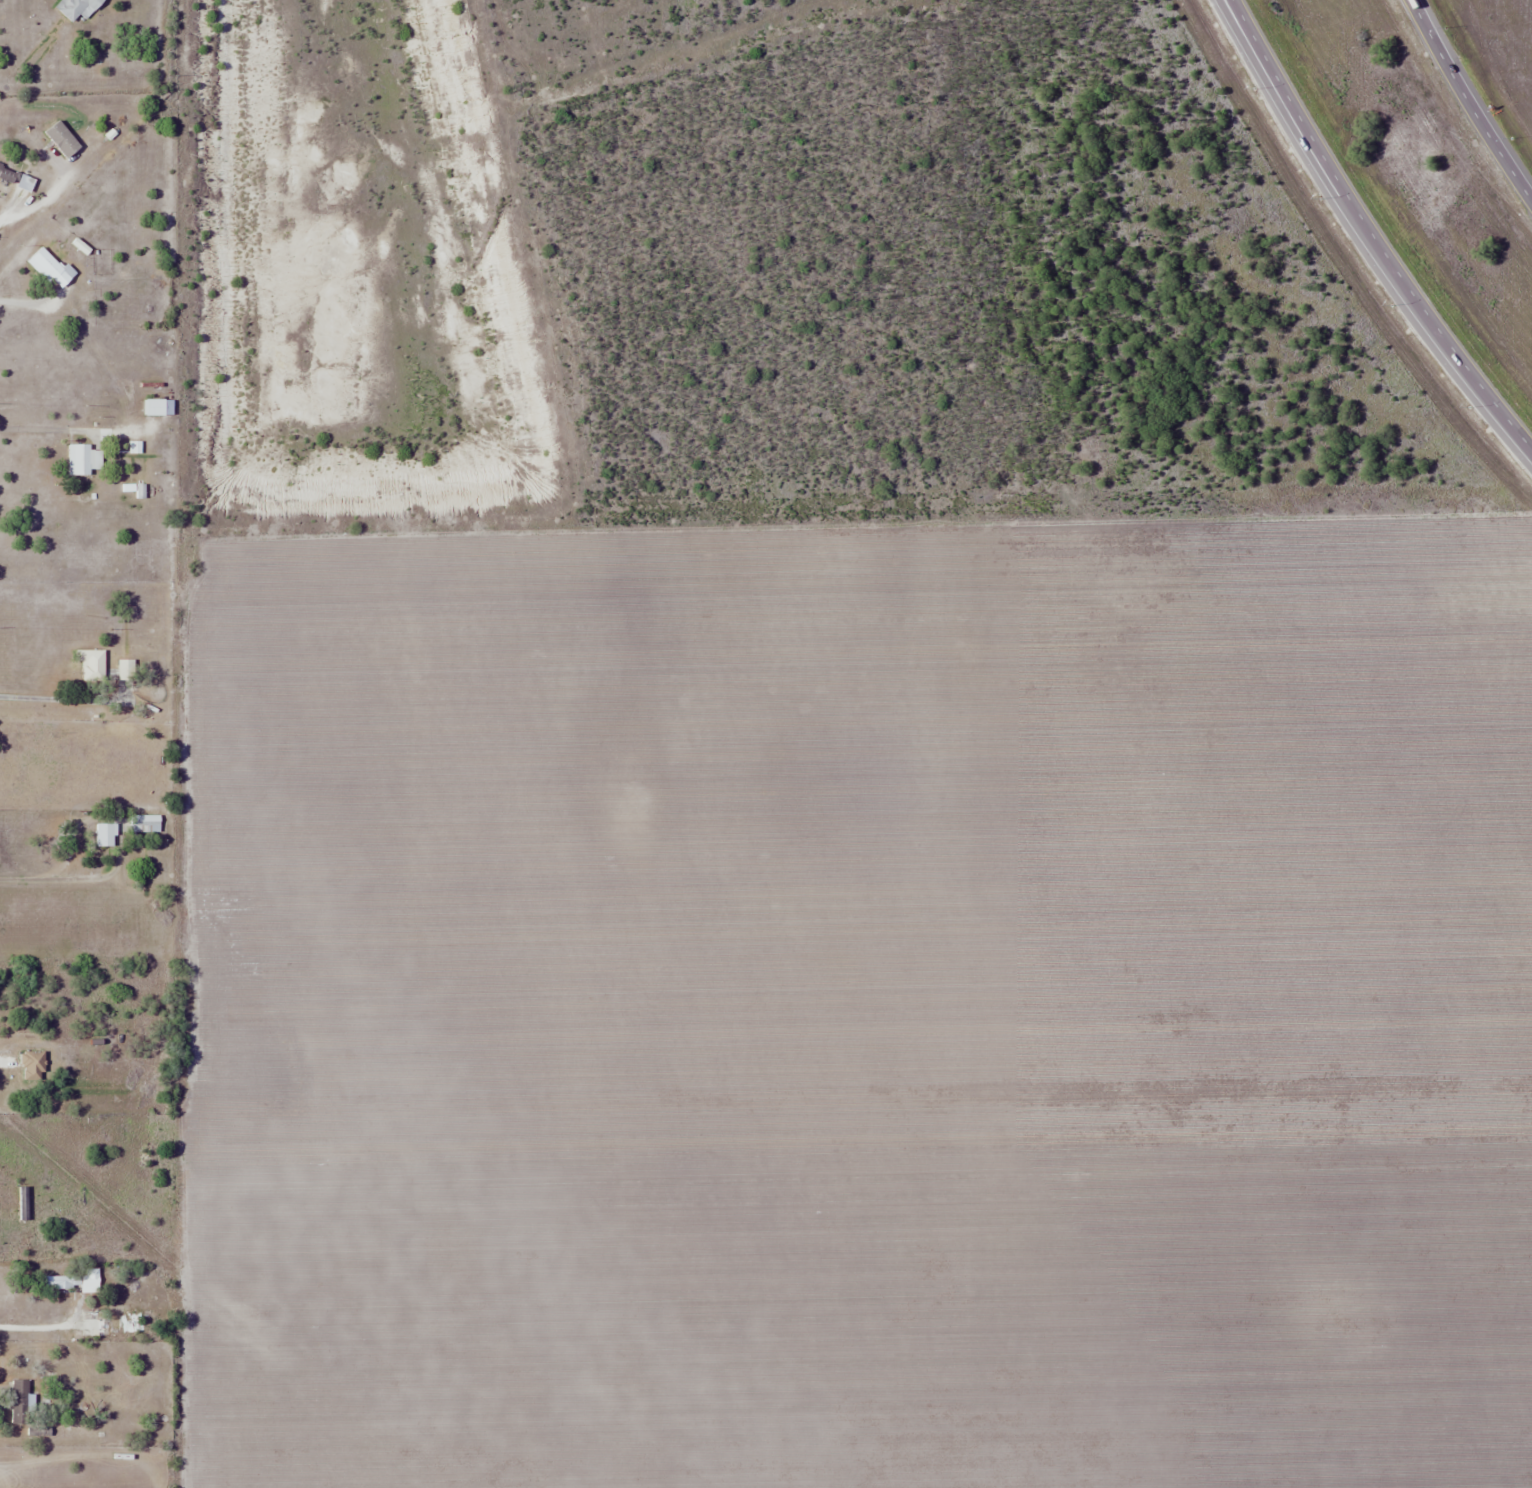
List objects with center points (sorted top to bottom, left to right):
building: (77, 8)
road: (1236, 9)
road: (1468, 101)
road: (1331, 168)
road: (8, 208)
building: (60, 280)
road: (26, 297)
road: (1484, 390)
building: (158, 406)
road: (46, 424)
building: (82, 459)
building: (125, 670)
road: (42, 692)
building: (144, 824)
building: (105, 834)
road: (69, 873)
building: (90, 1278)
building: (95, 1326)
building: (20, 1403)

